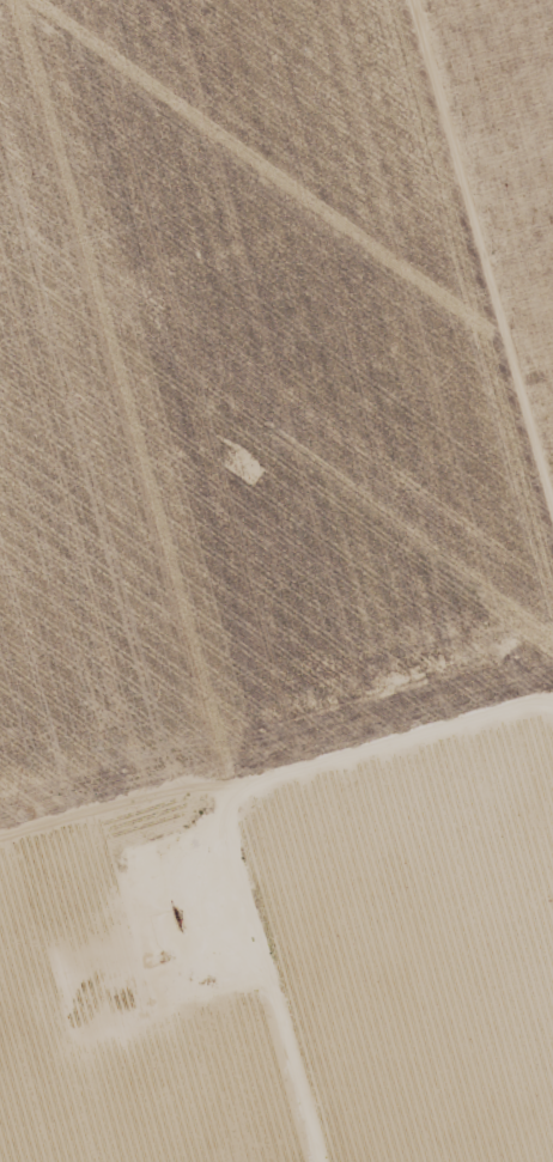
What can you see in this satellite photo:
road: (460, 348)
road: (276, 835)

